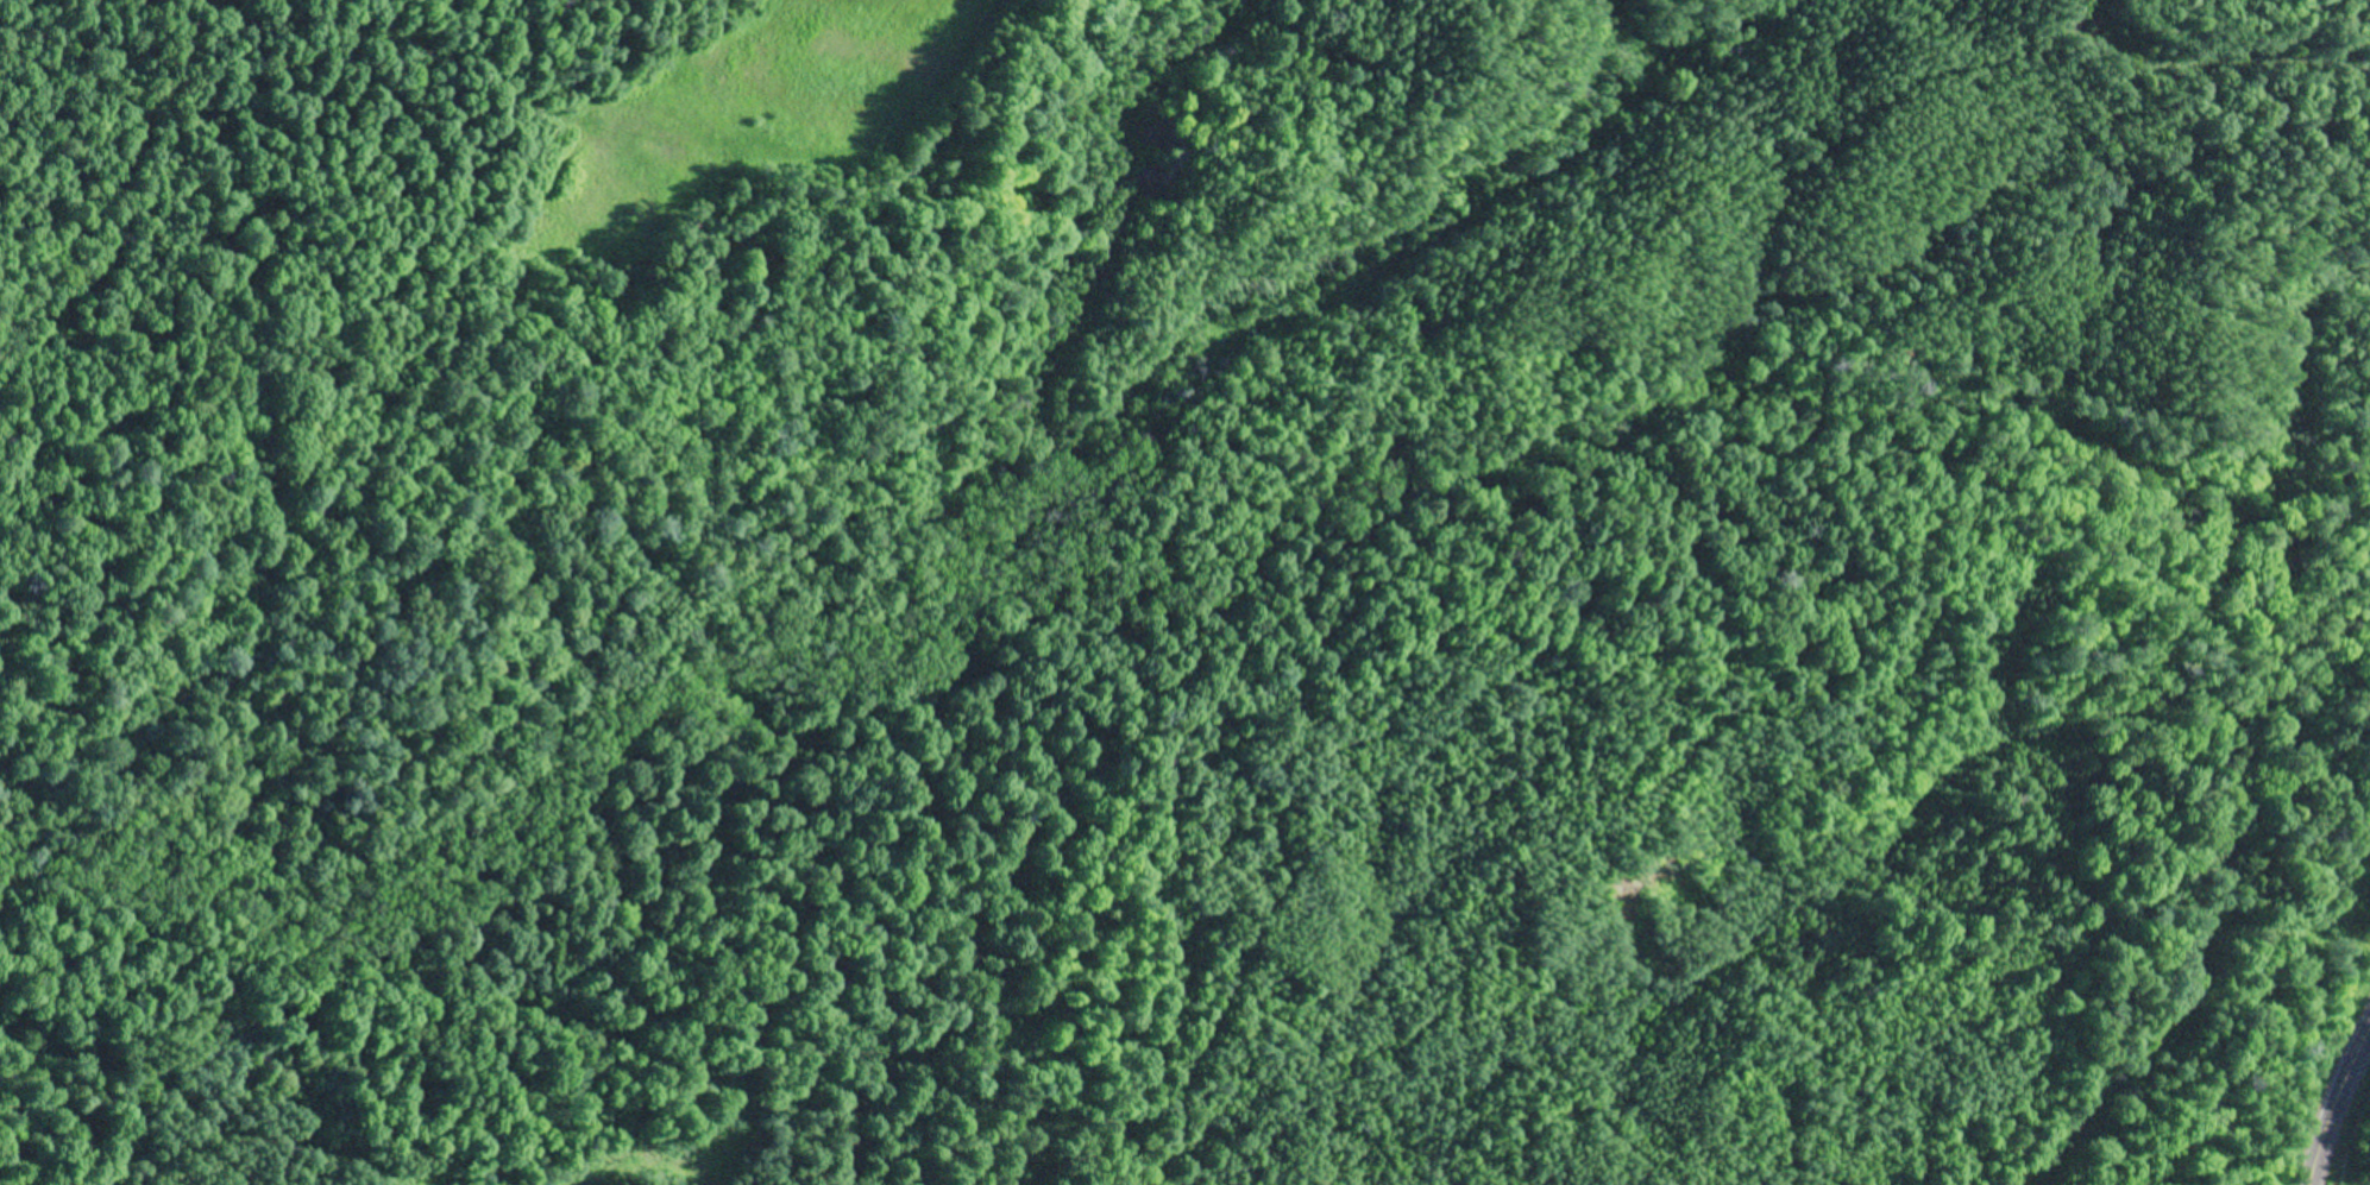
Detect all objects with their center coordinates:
building: (2083, 25)
road: (2339, 1108)

